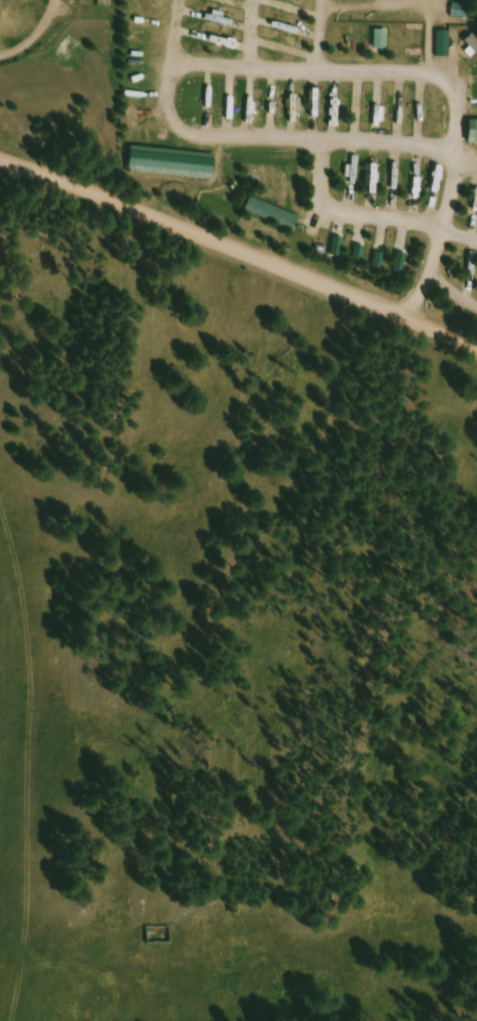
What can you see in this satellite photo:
building: (469, 0)
building: (284, 8)
road: (370, 11)
road: (178, 34)
road: (429, 35)
building: (472, 42)
road: (177, 69)
building: (297, 110)
building: (339, 111)
building: (318, 112)
building: (381, 115)
building: (476, 133)
road: (469, 165)
road: (368, 215)
building: (276, 216)
road: (445, 222)
road: (239, 245)
road: (419, 298)
road: (450, 302)
building: (161, 937)

